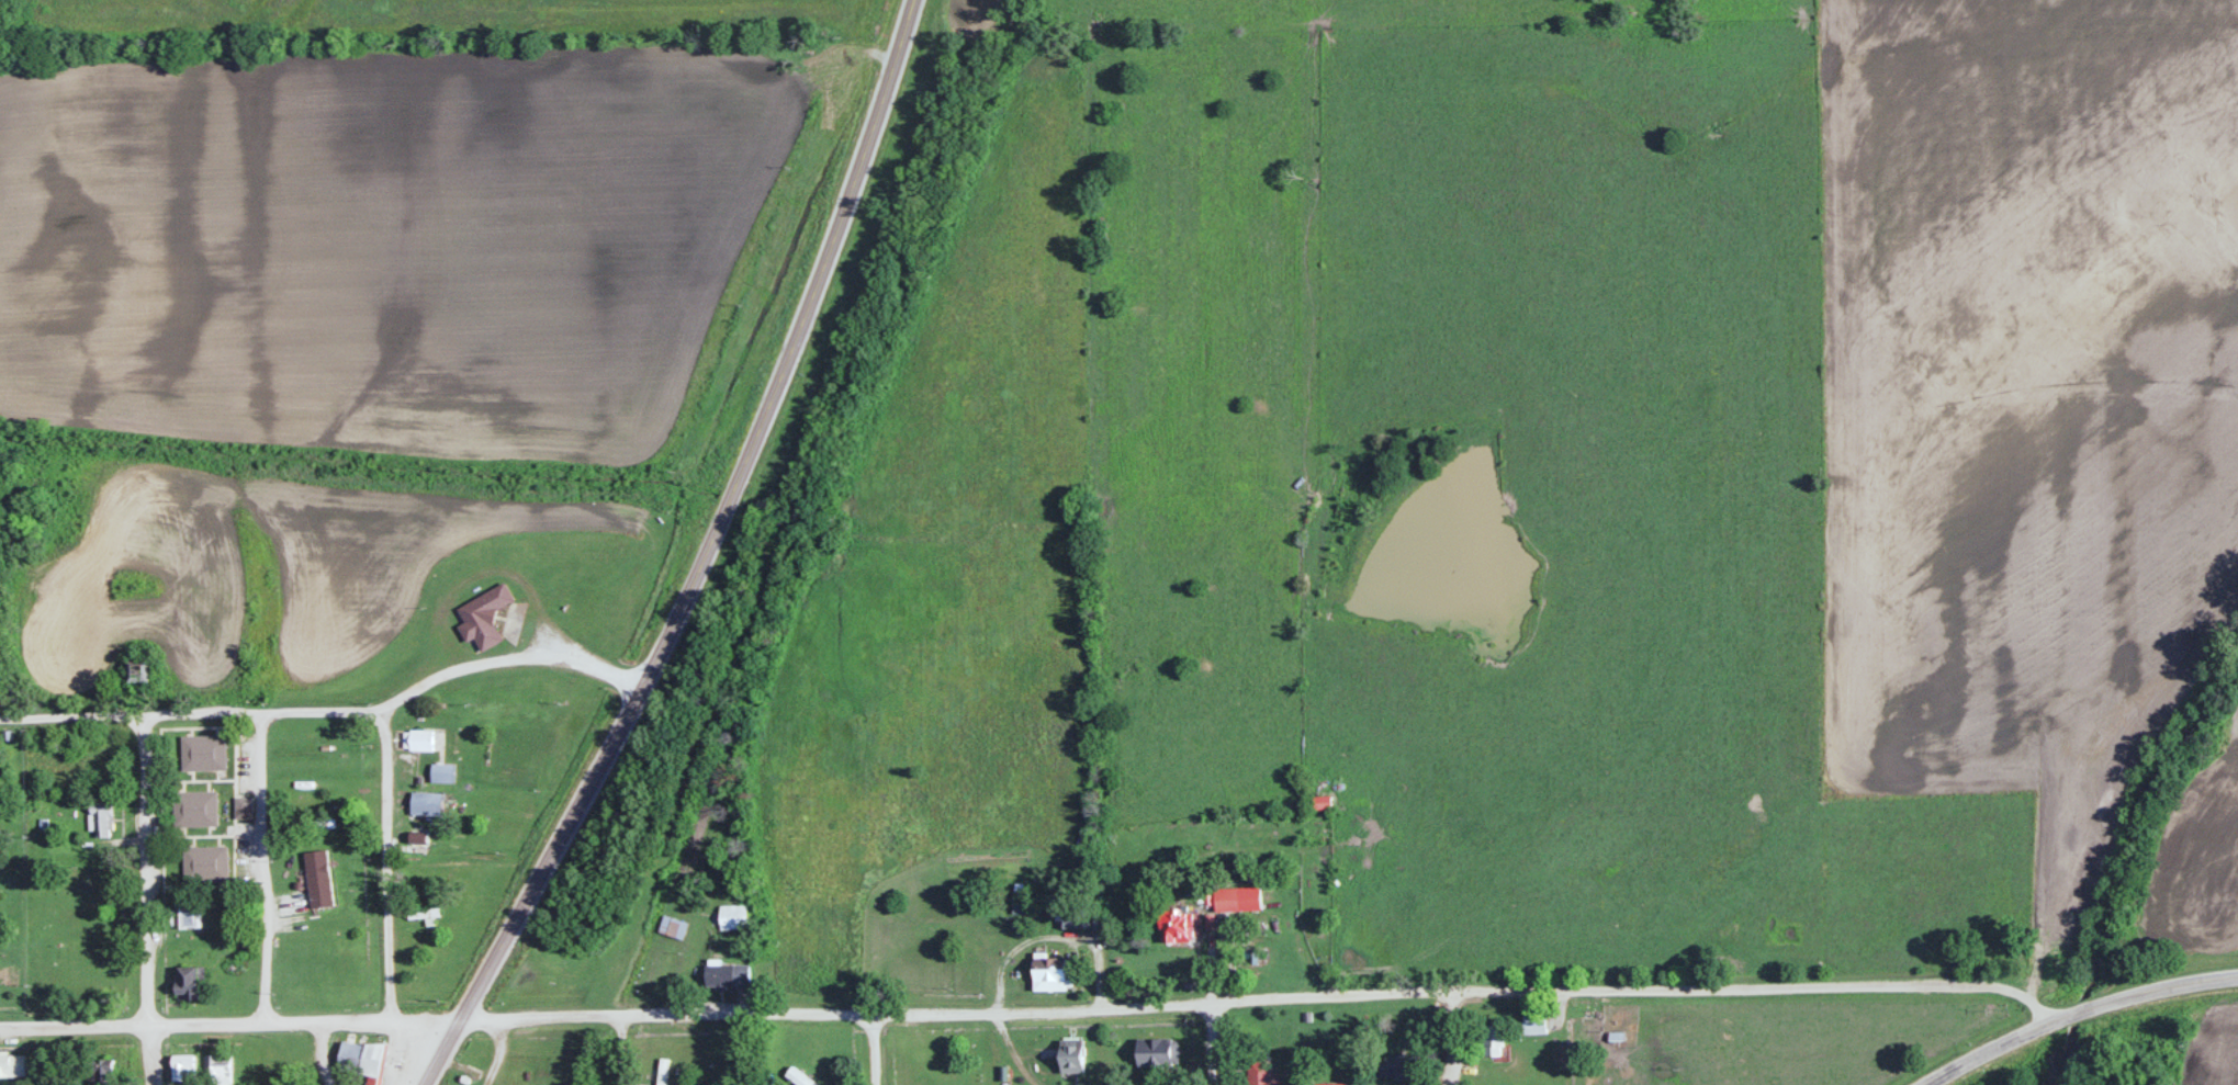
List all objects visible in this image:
crop: (386, 251)
crop: (2022, 378)
road: (718, 522)
crop: (946, 573)
building: (483, 618)
road: (508, 657)
building: (137, 673)
road: (191, 710)
building: (418, 741)
building: (202, 751)
building: (441, 773)
building: (1320, 803)
building: (425, 804)
building: (195, 807)
building: (241, 807)
building: (99, 821)
building: (204, 861)
road: (386, 862)
road: (262, 863)
road: (146, 867)
building: (318, 880)
building: (732, 917)
building: (1071, 917)
building: (188, 918)
building: (671, 927)
building: (1177, 928)
building: (82, 968)
building: (1049, 974)
building: (726, 975)
building: (188, 983)
road: (1285, 999)
road: (2076, 1010)
road: (252, 1019)
building: (1534, 1025)
road: (1451, 1039)
building: (1493, 1041)
road: (1214, 1044)
road: (621, 1048)
road: (440, 1050)
road: (873, 1050)
road: (153, 1052)
building: (1157, 1052)
building: (1071, 1056)
building: (361, 1061)
building: (12, 1065)
building: (182, 1067)
building: (1398, 1067)
building: (218, 1069)
building: (99, 1072)
building: (1259, 1073)
building: (798, 1077)
building: (1329, 1084)

